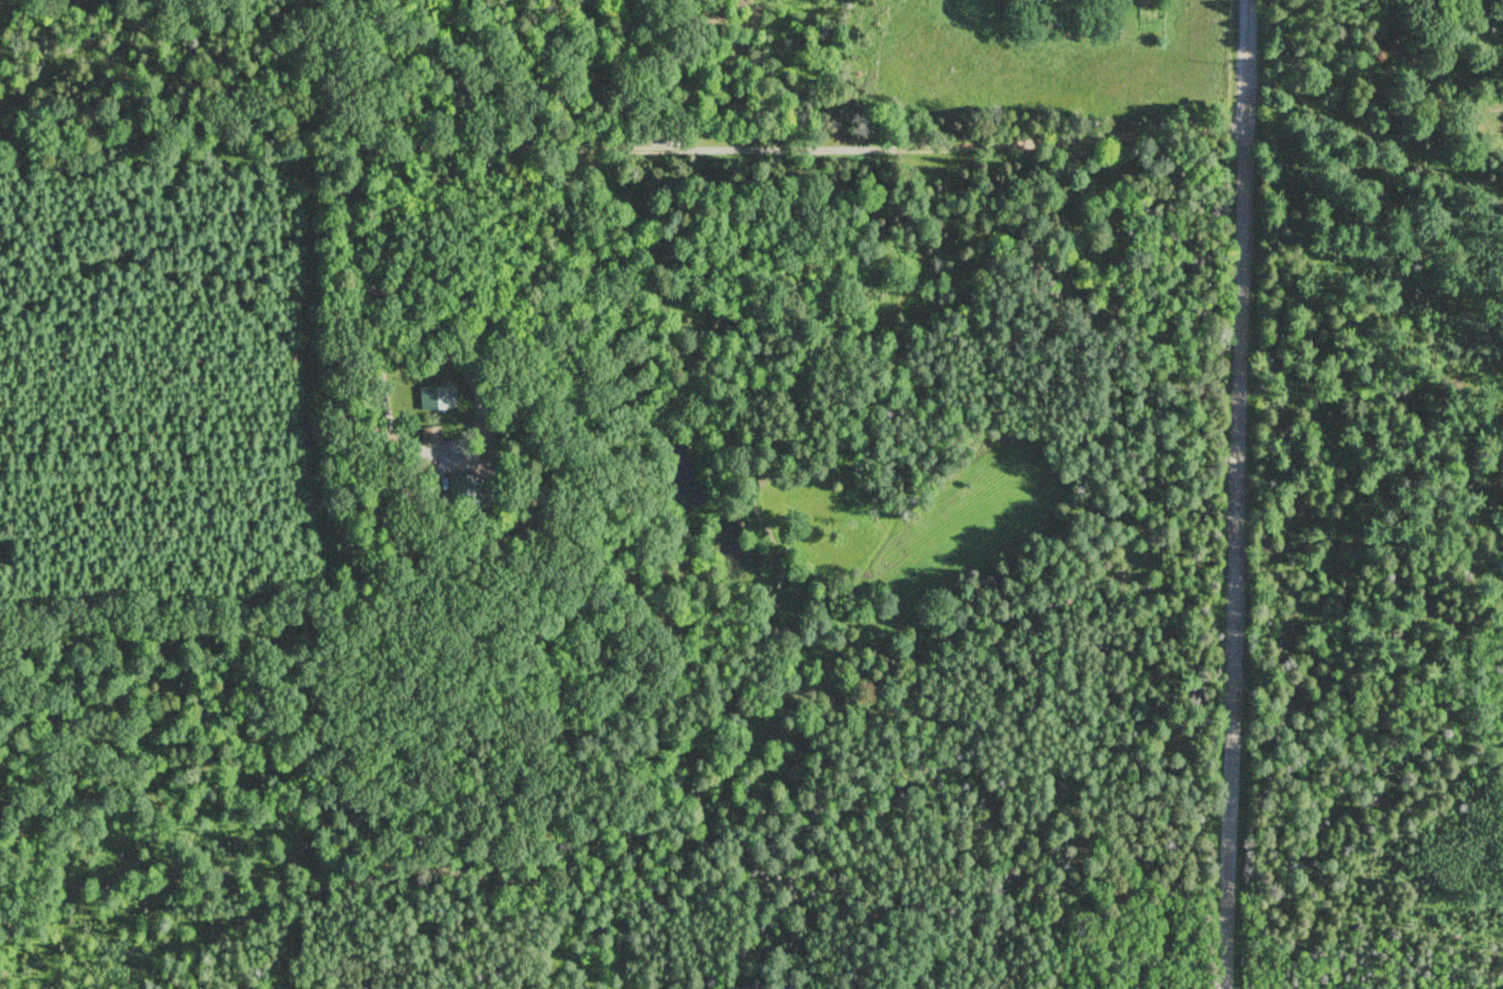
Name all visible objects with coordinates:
building: (435, 399)
road: (1235, 494)
road: (1016, 804)

